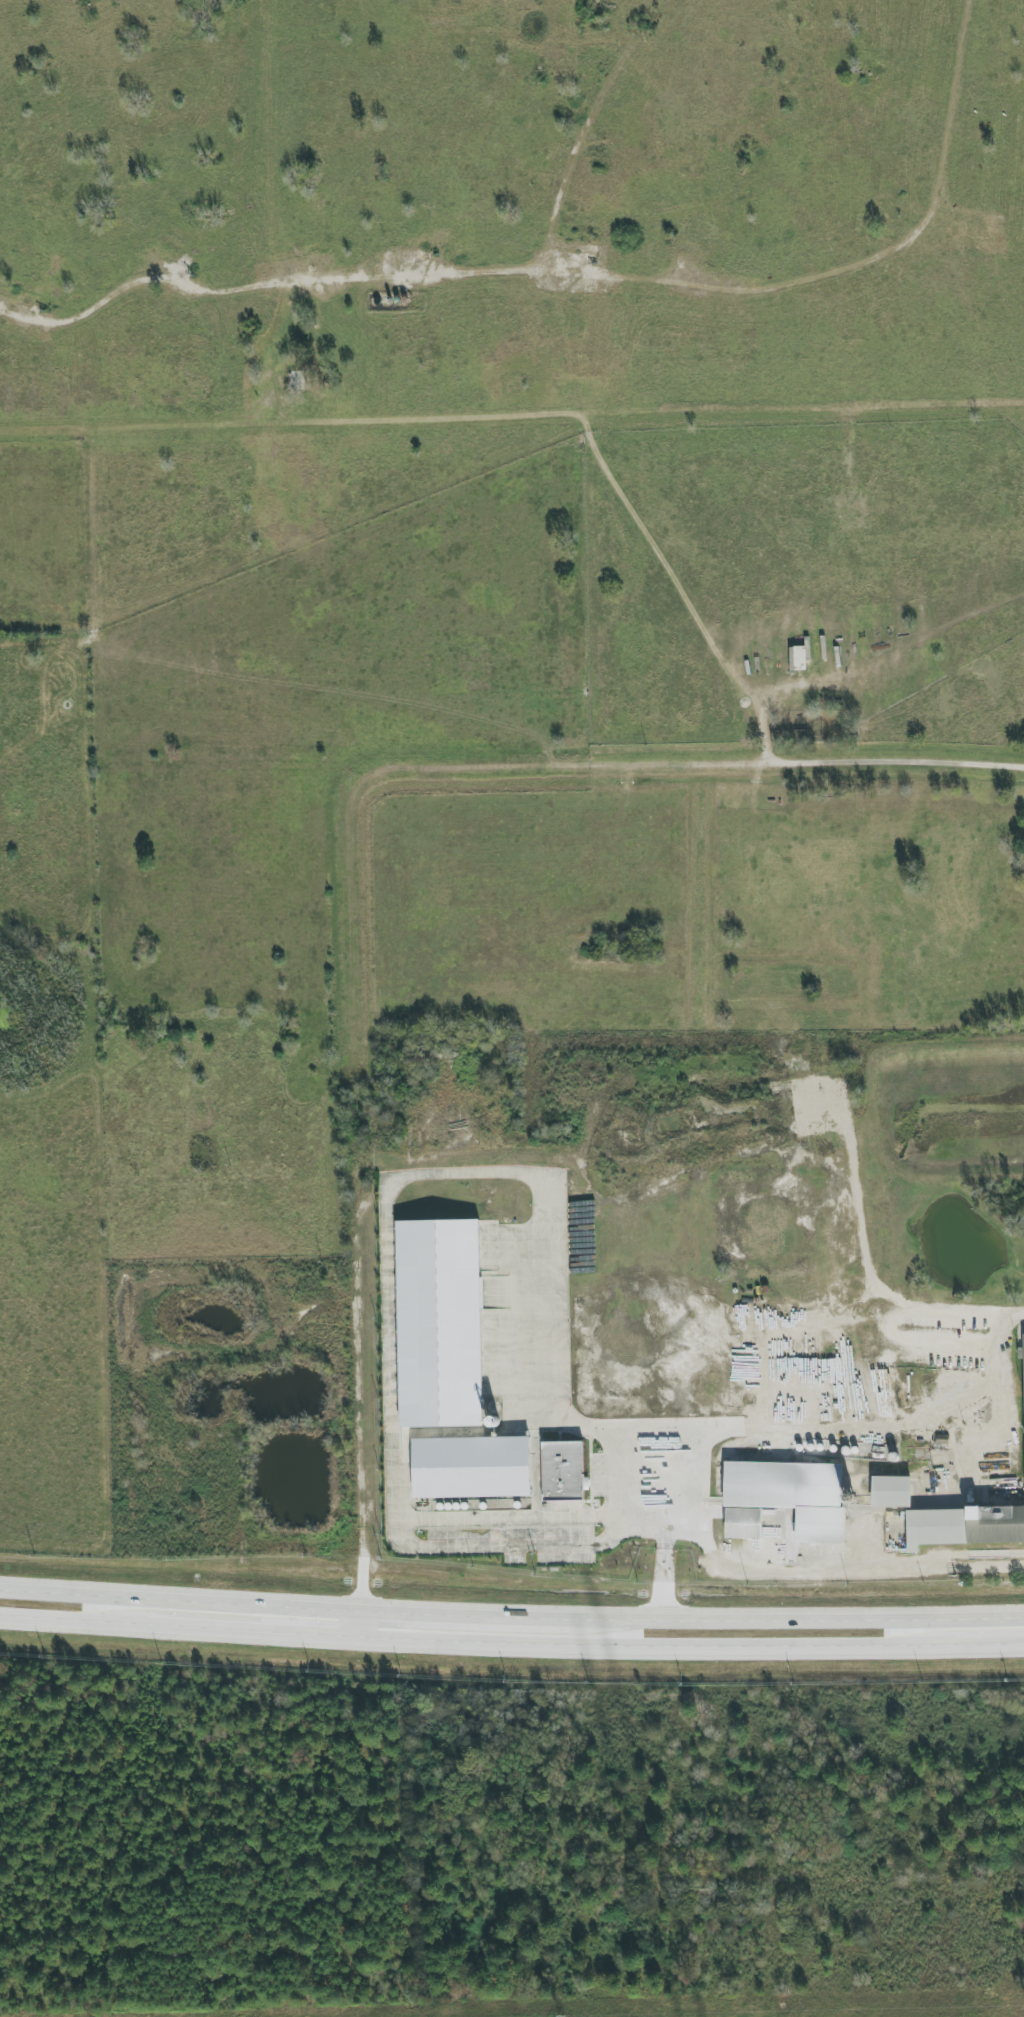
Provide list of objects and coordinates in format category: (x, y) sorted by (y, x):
road: (512, 419)
building: (798, 658)
road: (349, 884)
road: (394, 1182)
road: (862, 1230)
road: (1013, 1313)
building: (440, 1324)
road: (901, 1341)
road: (862, 1429)
road: (536, 1458)
building: (472, 1468)
building: (563, 1471)
road: (610, 1482)
building: (891, 1492)
building: (786, 1499)
road: (502, 1518)
building: (964, 1526)
road: (836, 1569)
road: (662, 1574)
road: (511, 1615)
road: (511, 1646)

